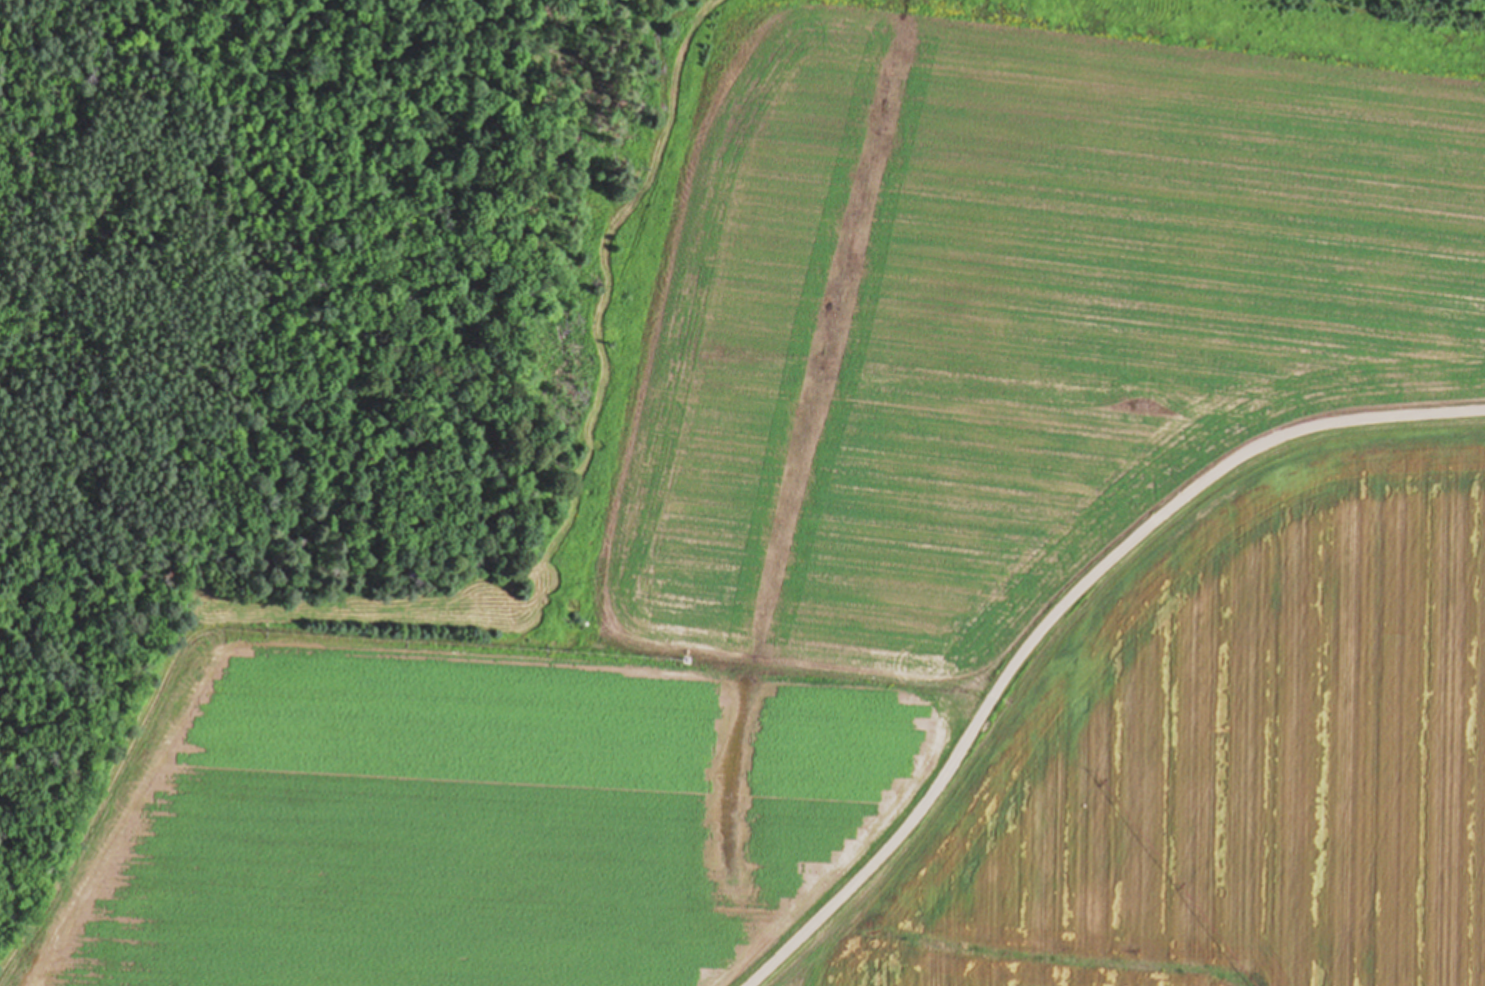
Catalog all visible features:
road: (1059, 609)

